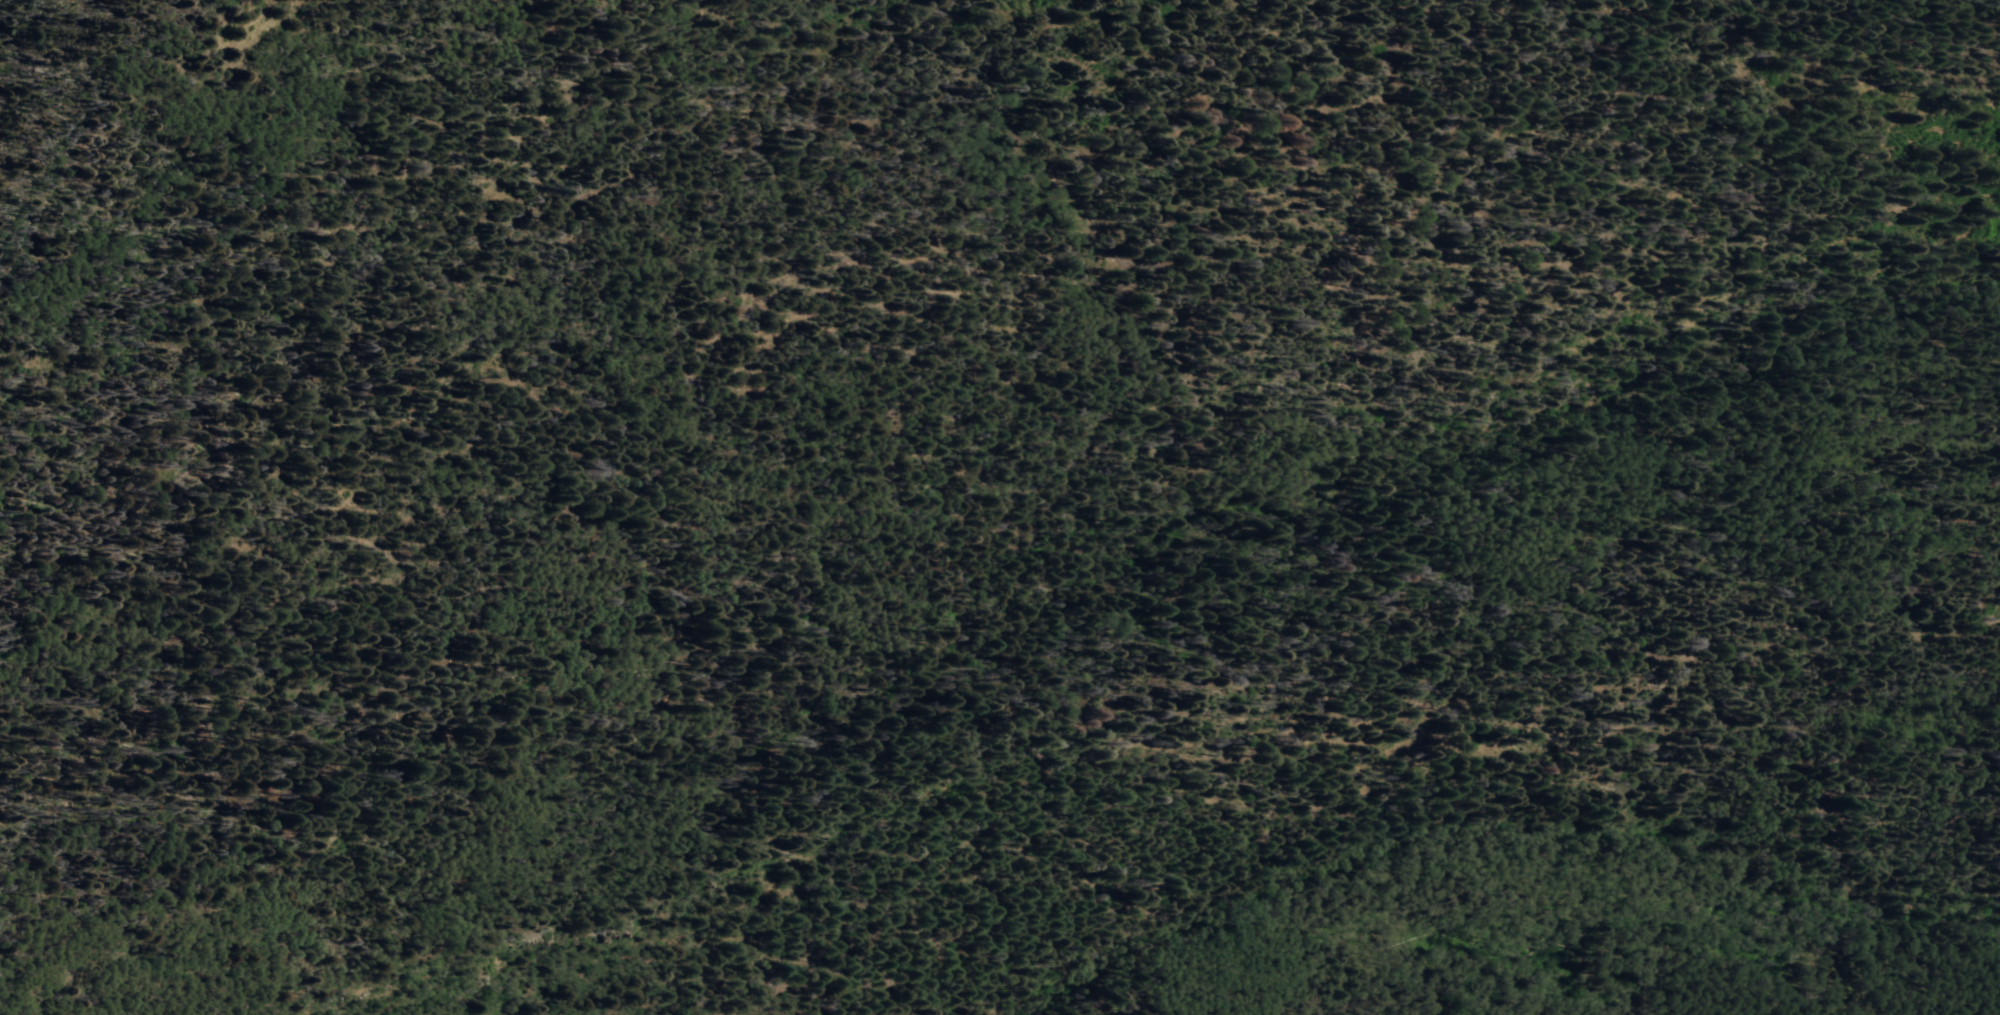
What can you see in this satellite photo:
road: (1378, 243)

